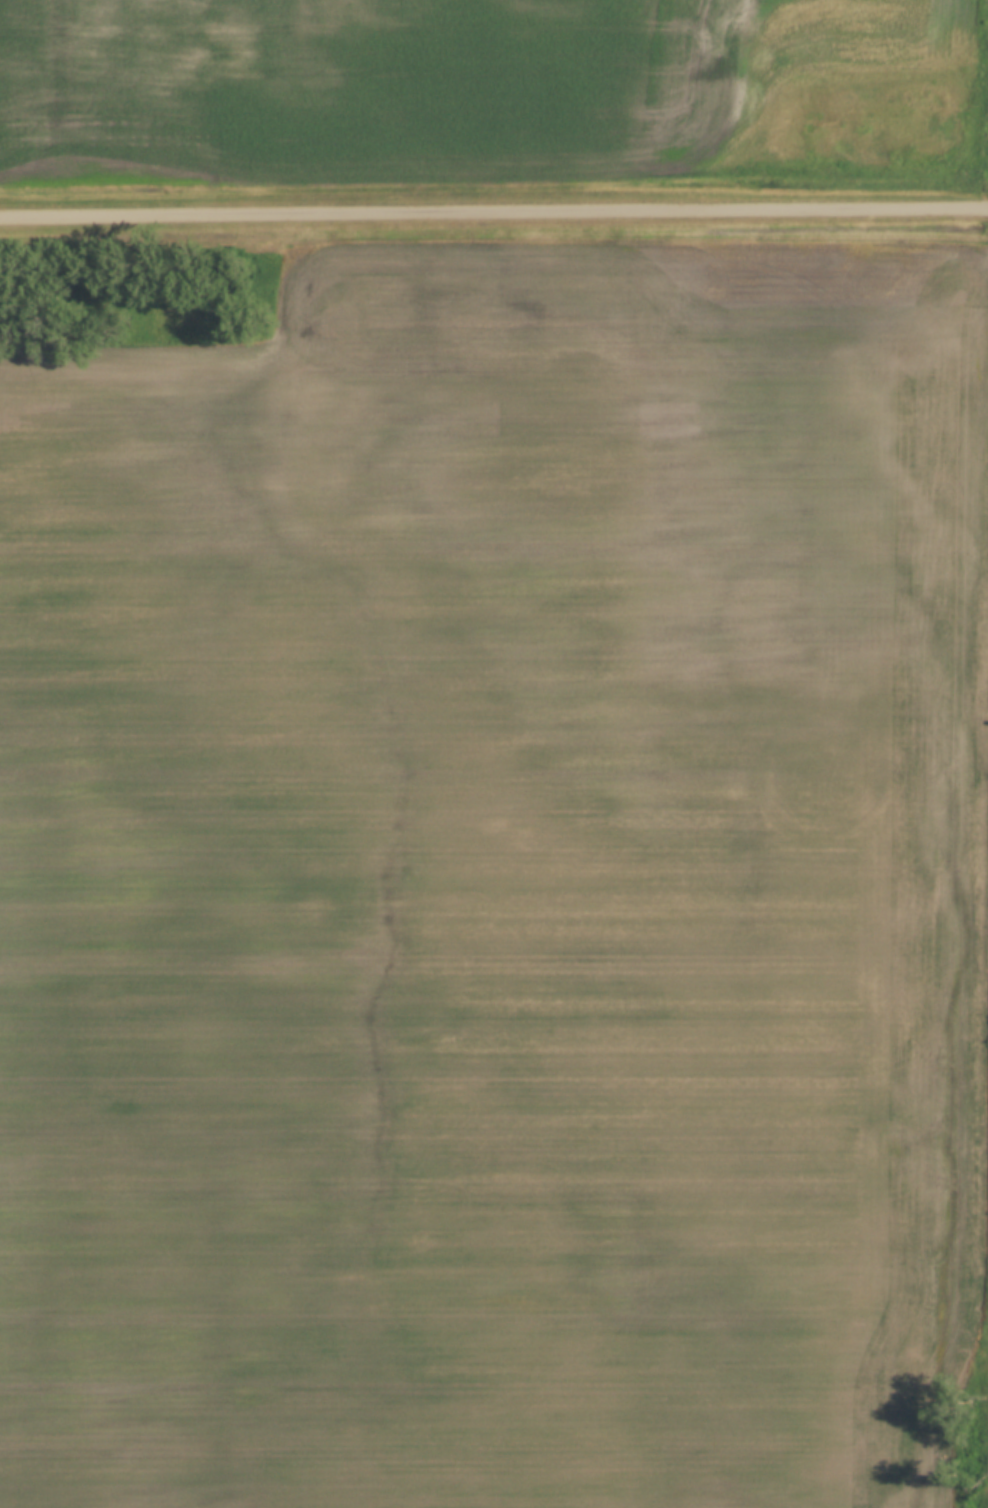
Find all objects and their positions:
road: (493, 214)

